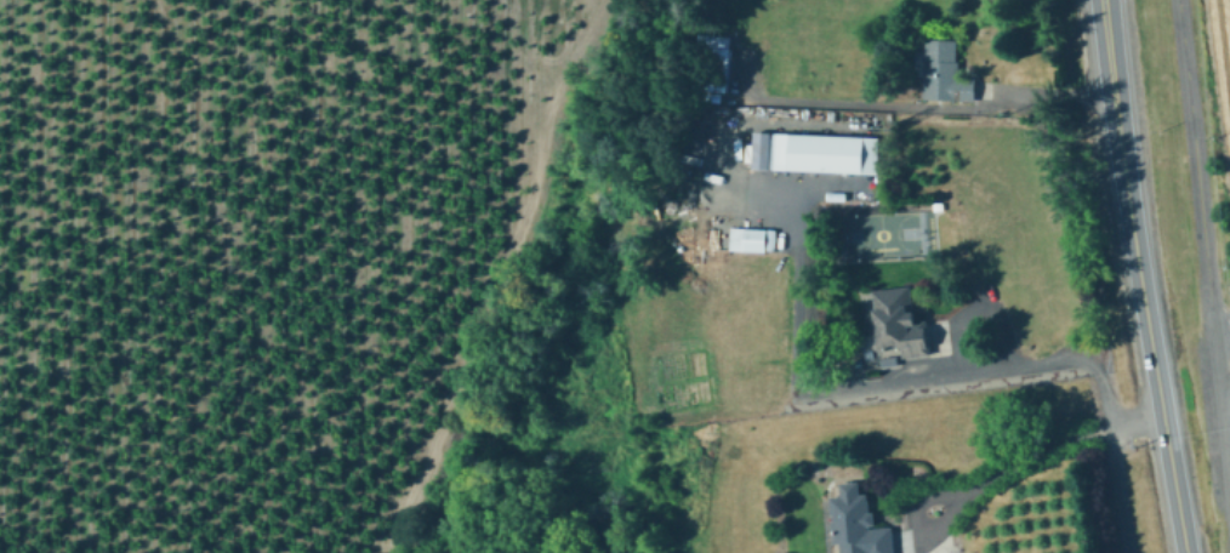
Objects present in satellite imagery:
building: (714, 69)
building: (945, 73)
crop: (1220, 82)
building: (826, 153)
park: (879, 232)
road: (1203, 233)
building: (750, 239)
road: (1140, 276)
road: (1222, 321)
building: (899, 323)
road: (866, 388)
road: (1020, 460)
road: (1112, 460)
building: (859, 524)

